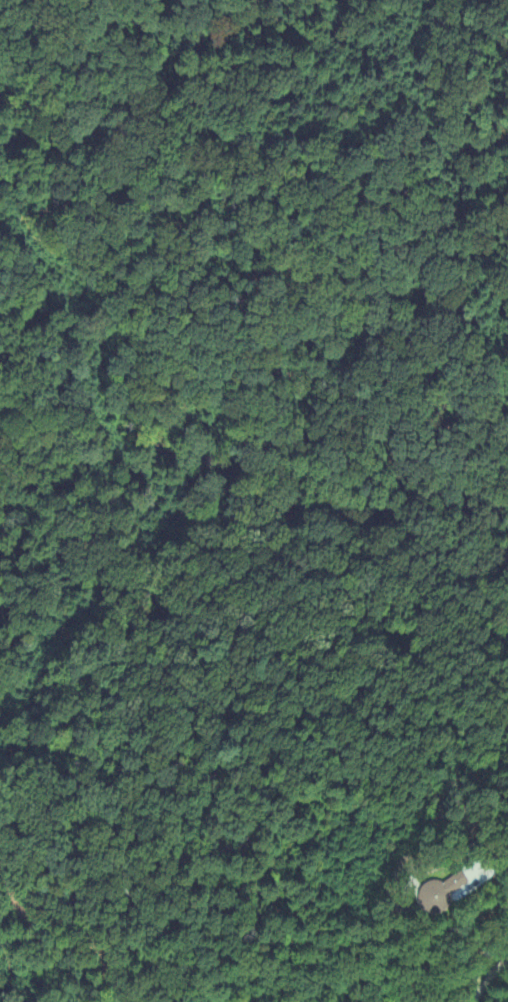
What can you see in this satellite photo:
road: (499, 865)
building: (428, 891)
road: (483, 961)
road: (485, 976)

